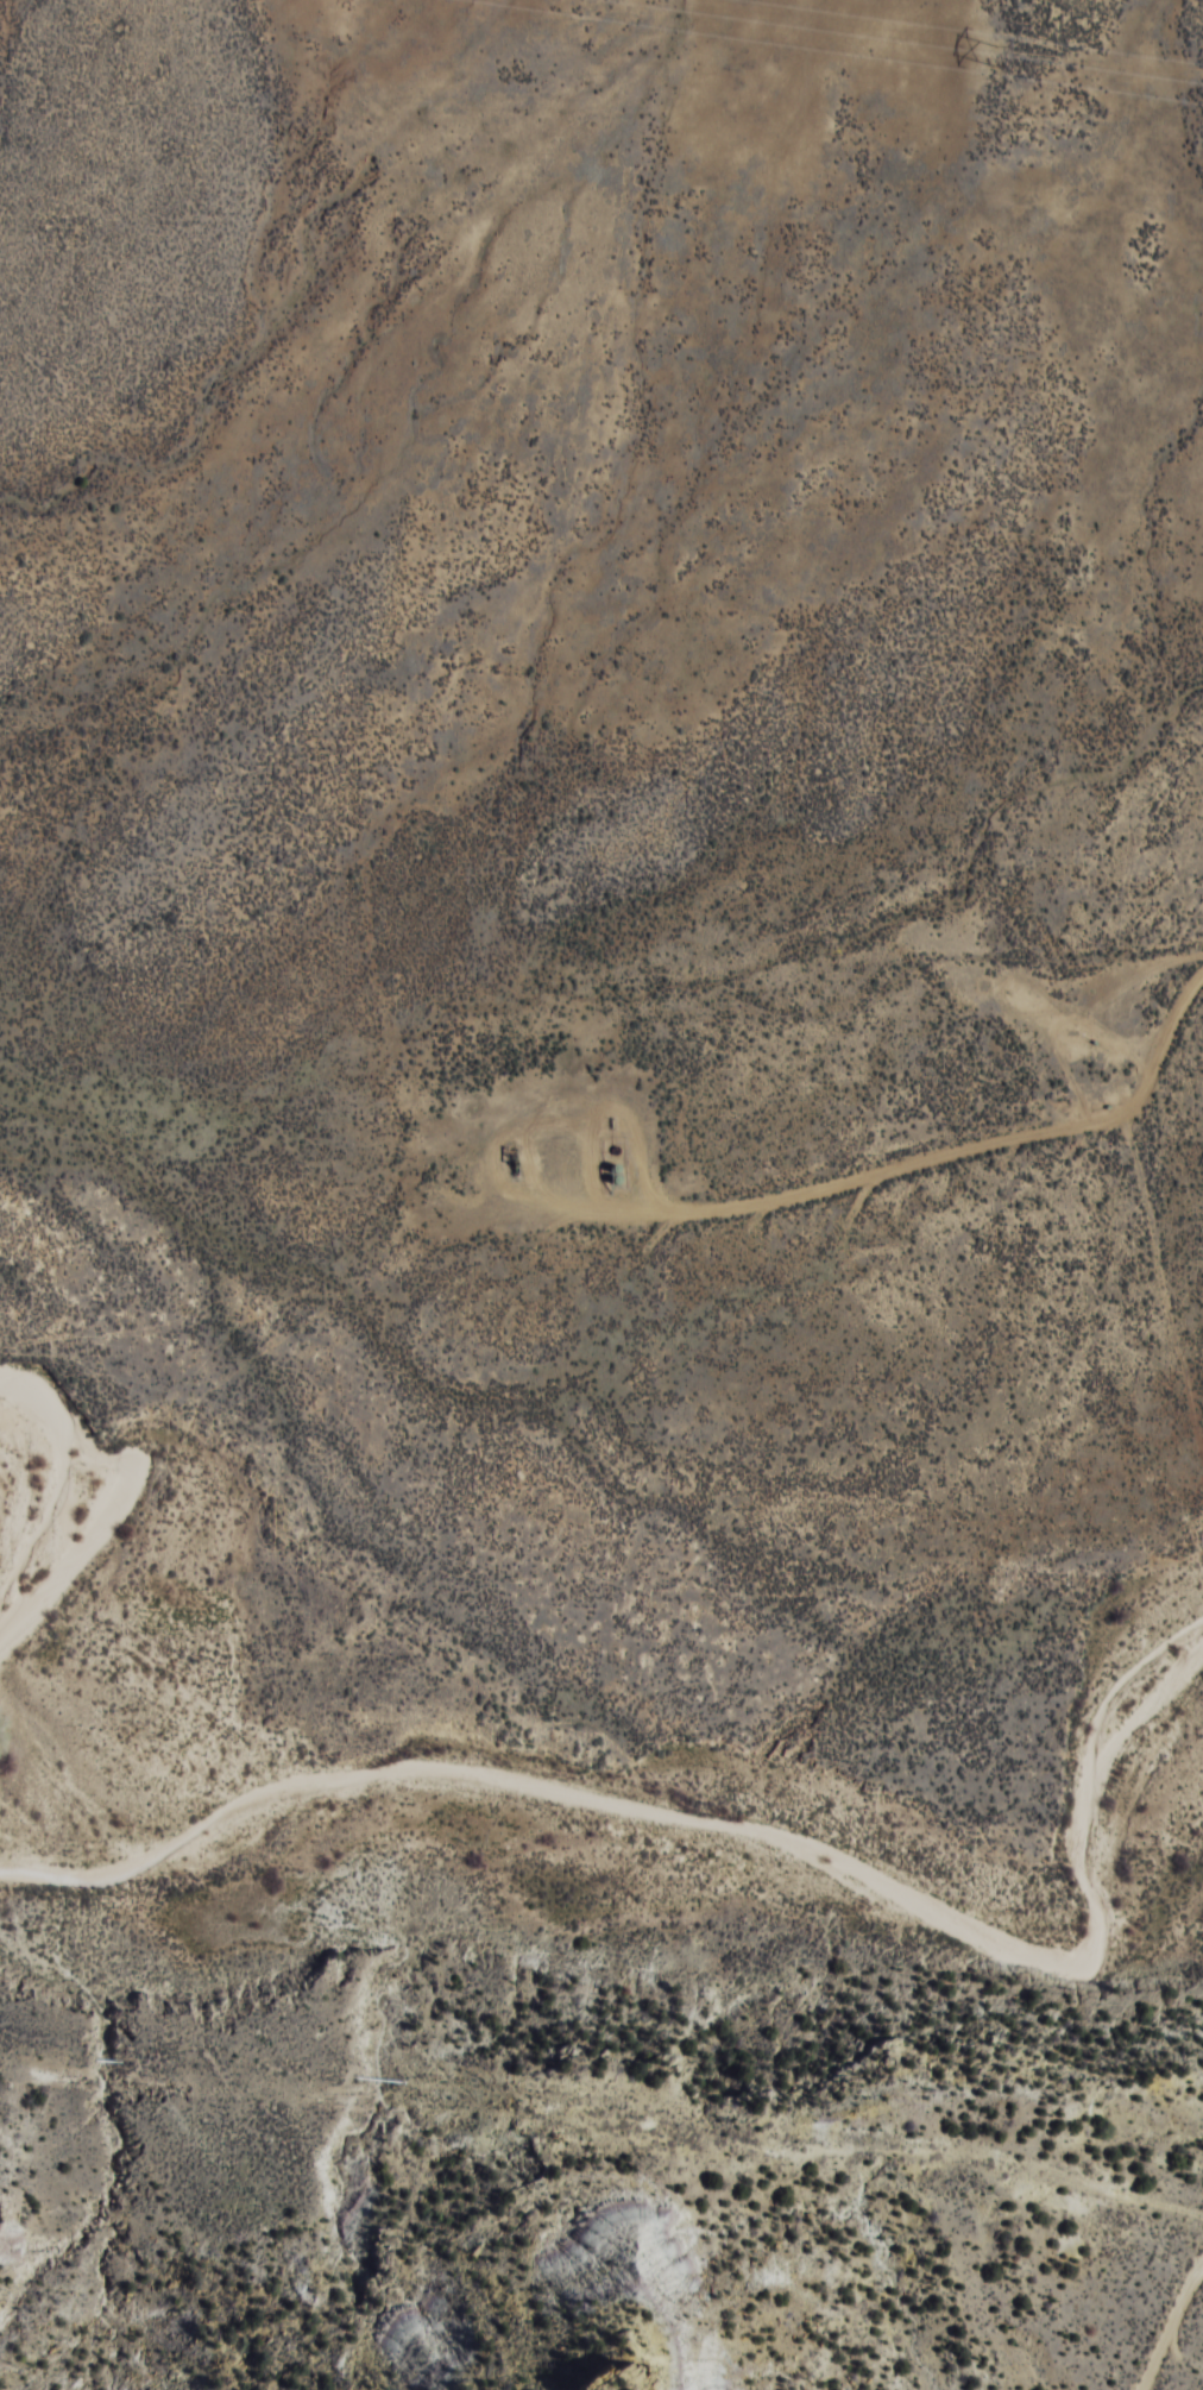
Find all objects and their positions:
power tower: (994, 55)
road: (1160, 954)
river: (610, 1807)
road: (1144, 2225)

